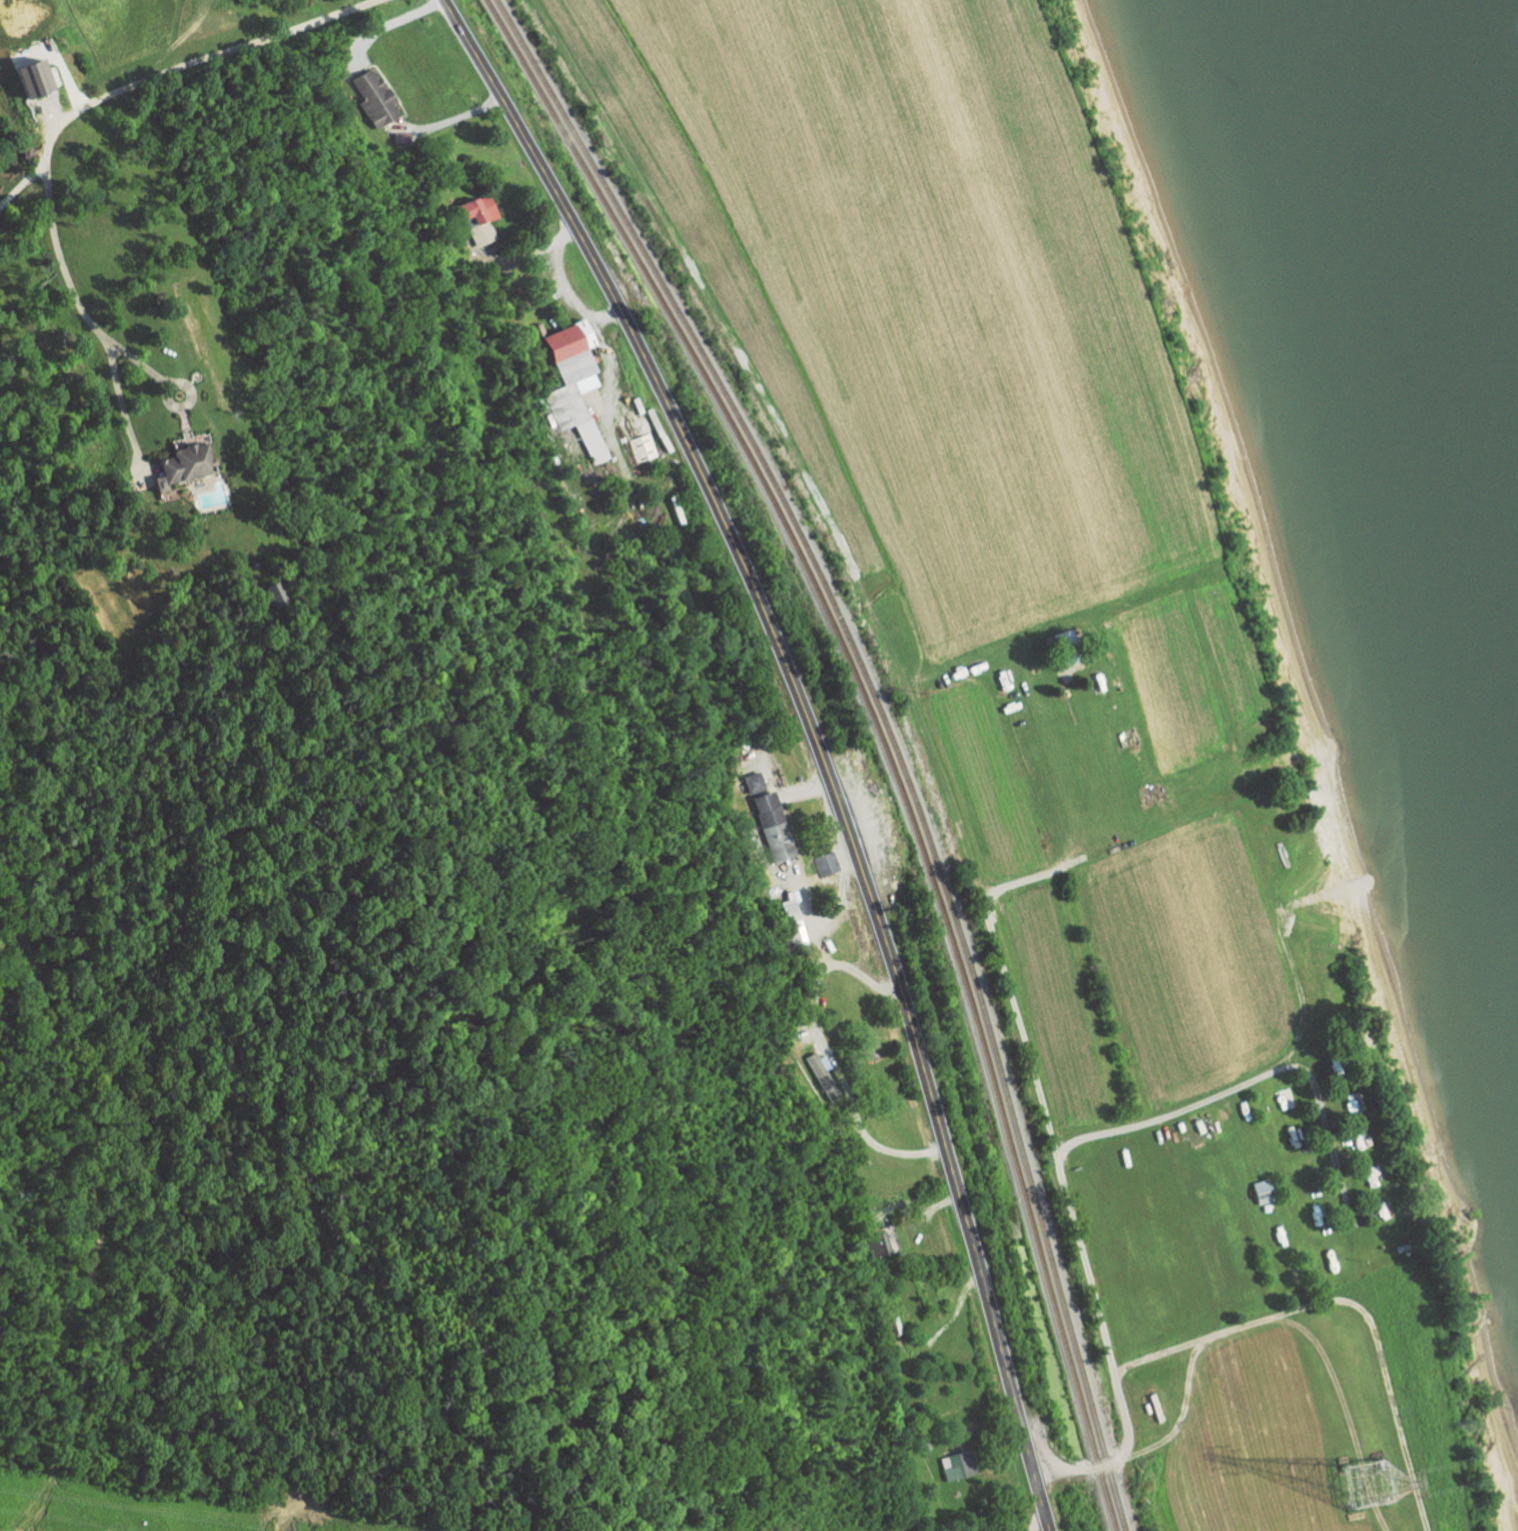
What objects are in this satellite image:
road: (383, 22)
road: (189, 63)
road: (457, 117)
road: (19, 183)
road: (520, 254)
road: (563, 284)
road: (84, 315)
crop: (1067, 713)
road: (909, 726)
railway: (877, 733)
railway: (887, 733)
road: (810, 738)
road: (833, 910)
road: (862, 976)
road: (1268, 1077)
road: (843, 1088)
road: (1061, 1178)
road: (1272, 1317)
road: (1155, 1353)
power tower: (1364, 1492)
road: (1034, 1521)

